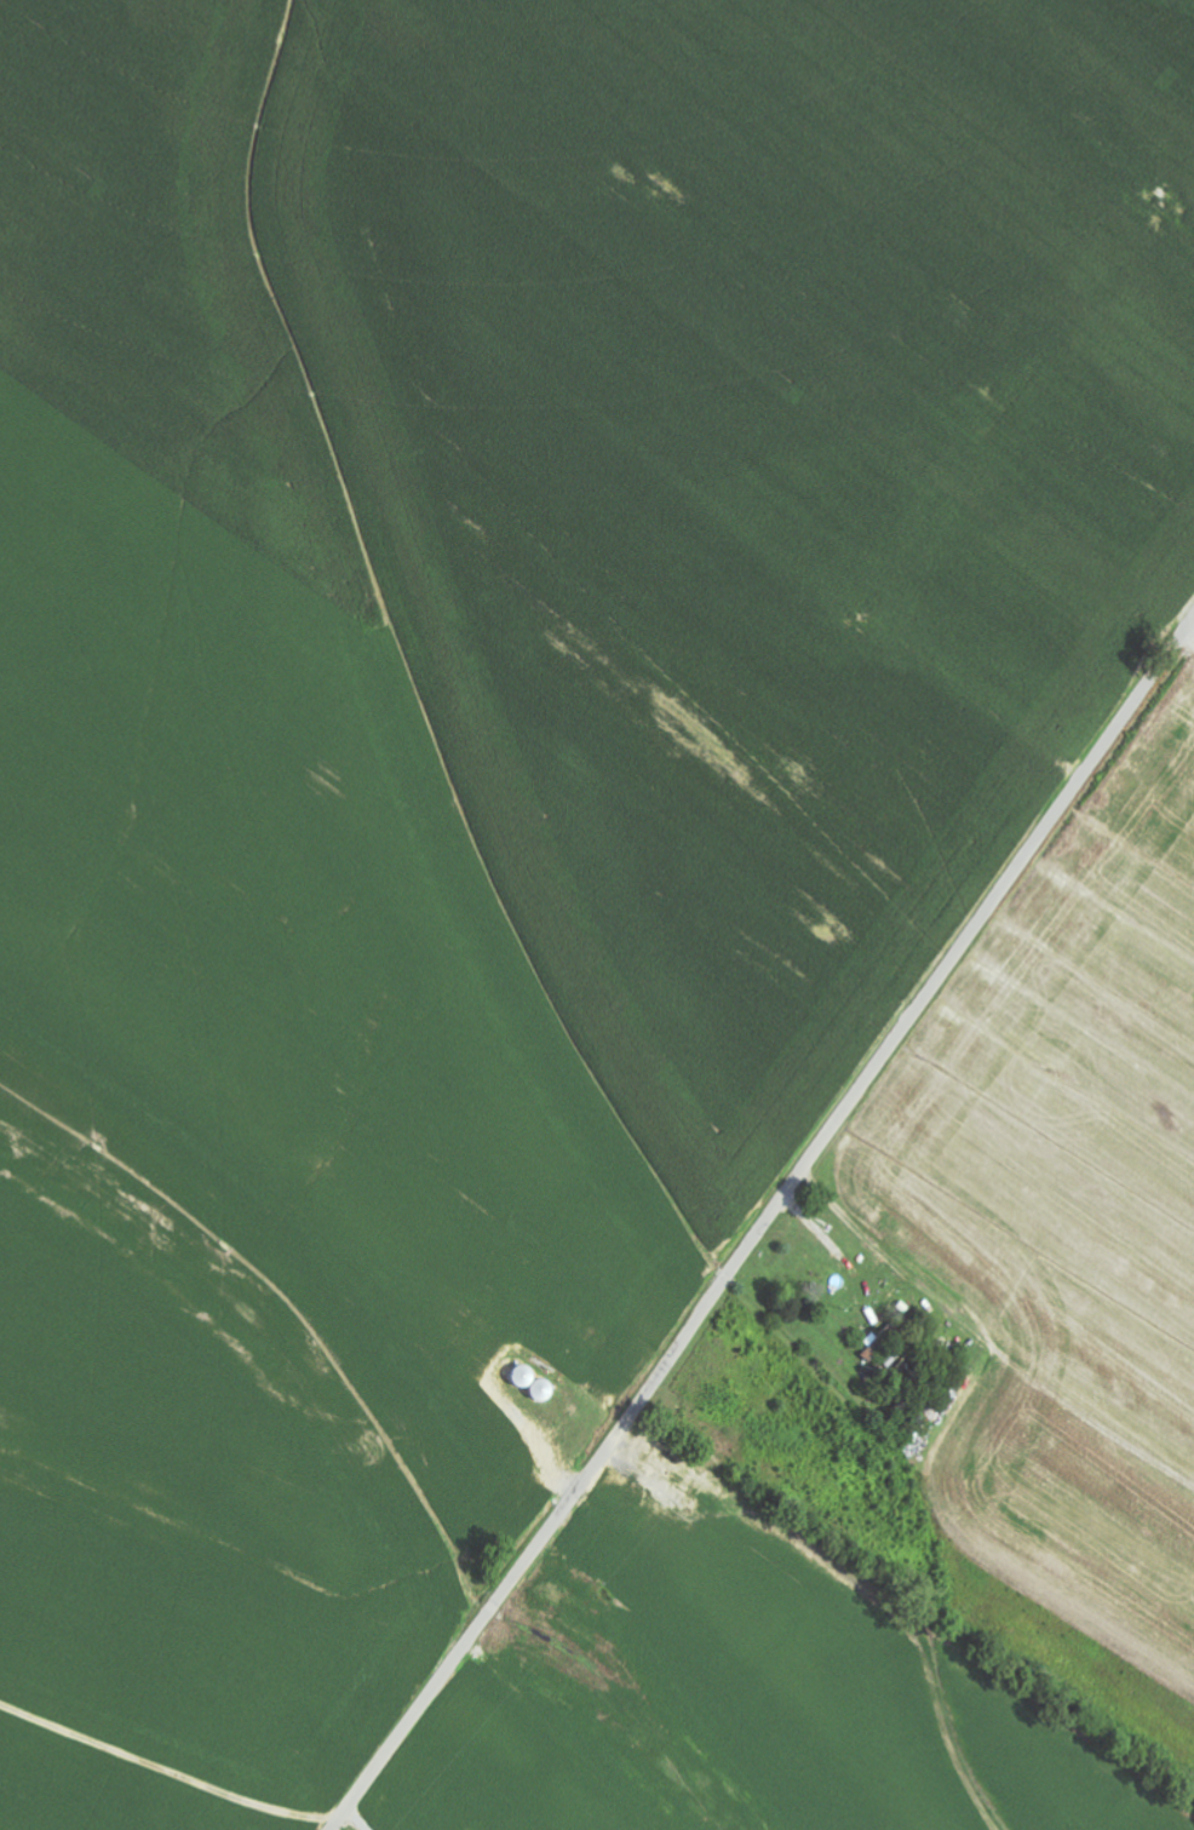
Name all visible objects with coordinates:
road: (1188, 637)
road: (763, 1222)
road: (360, 1820)

